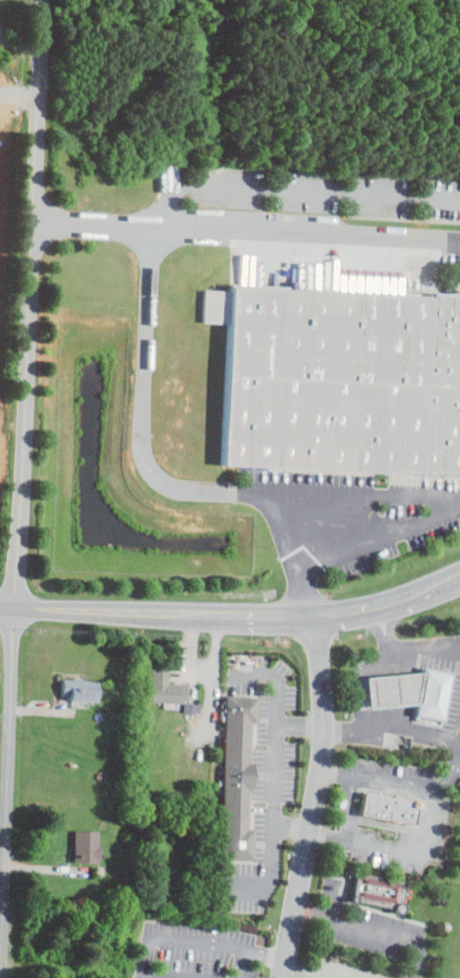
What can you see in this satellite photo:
road: (294, 190)
road: (87, 223)
road: (144, 326)
building: (342, 379)
road: (18, 489)
road: (392, 494)
road: (383, 531)
road: (233, 616)
road: (403, 647)
road: (356, 680)
road: (391, 688)
building: (83, 690)
building: (171, 690)
building: (431, 693)
road: (280, 705)
road: (392, 728)
building: (235, 776)
road: (443, 777)
road: (275, 796)
road: (318, 800)
road: (346, 806)
building: (387, 806)
road: (427, 819)
road: (293, 827)
building: (88, 847)
road: (230, 886)
building: (375, 888)
road: (375, 928)
road: (178, 940)
road: (251, 949)
road: (298, 973)

